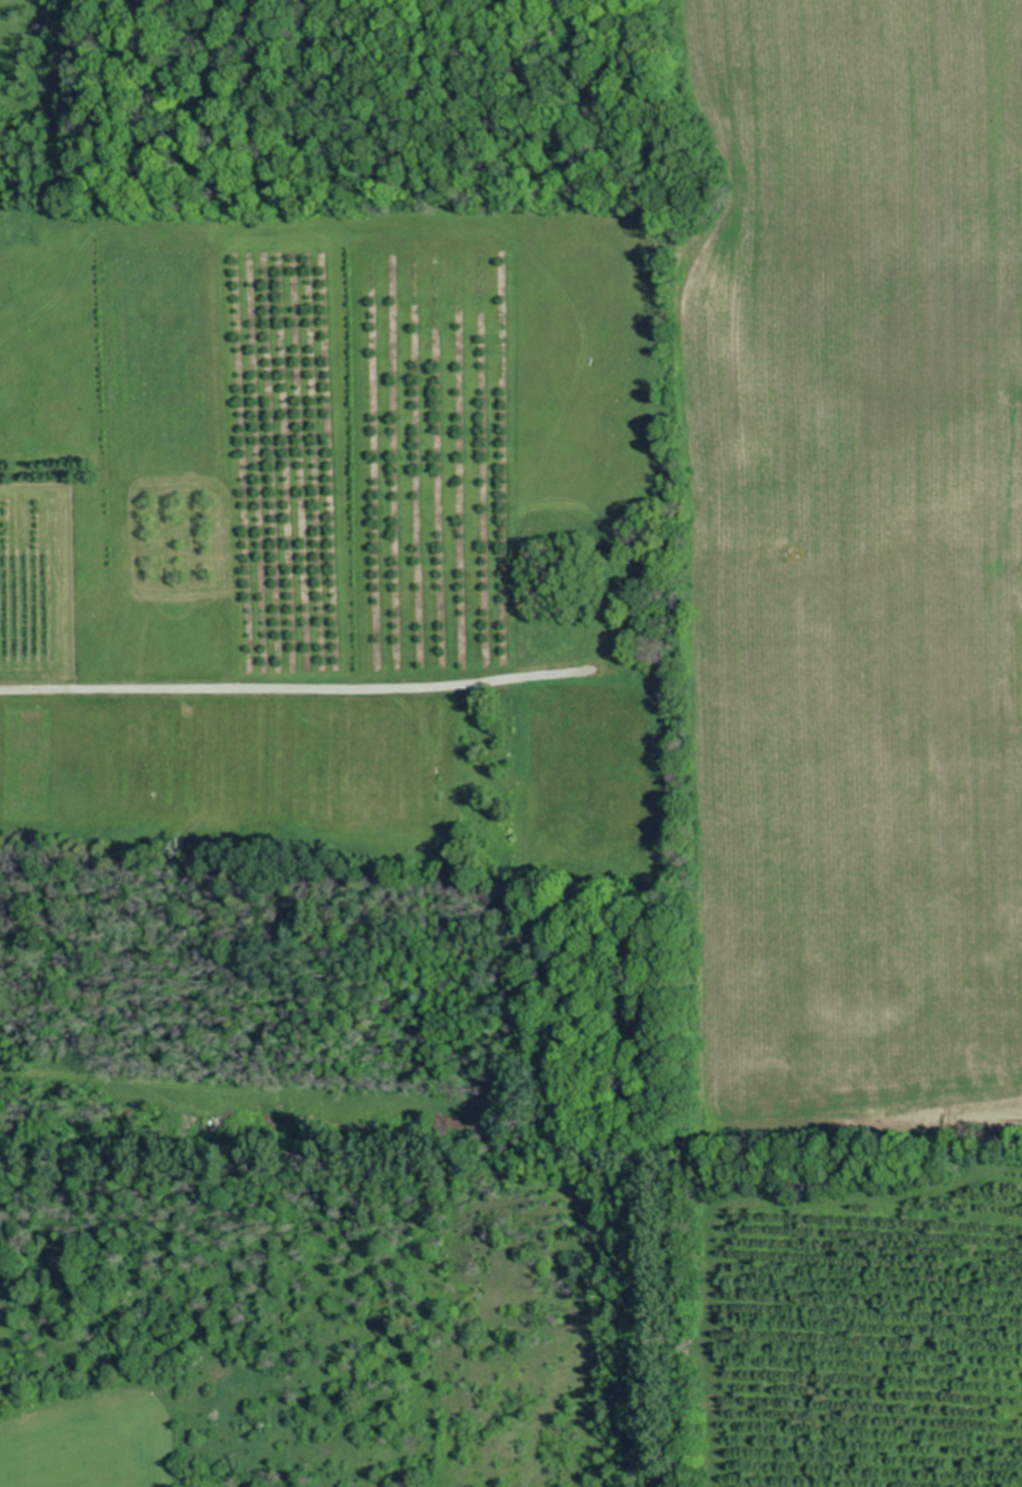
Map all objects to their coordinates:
quarry: (854, 578)
crop: (344, 688)

